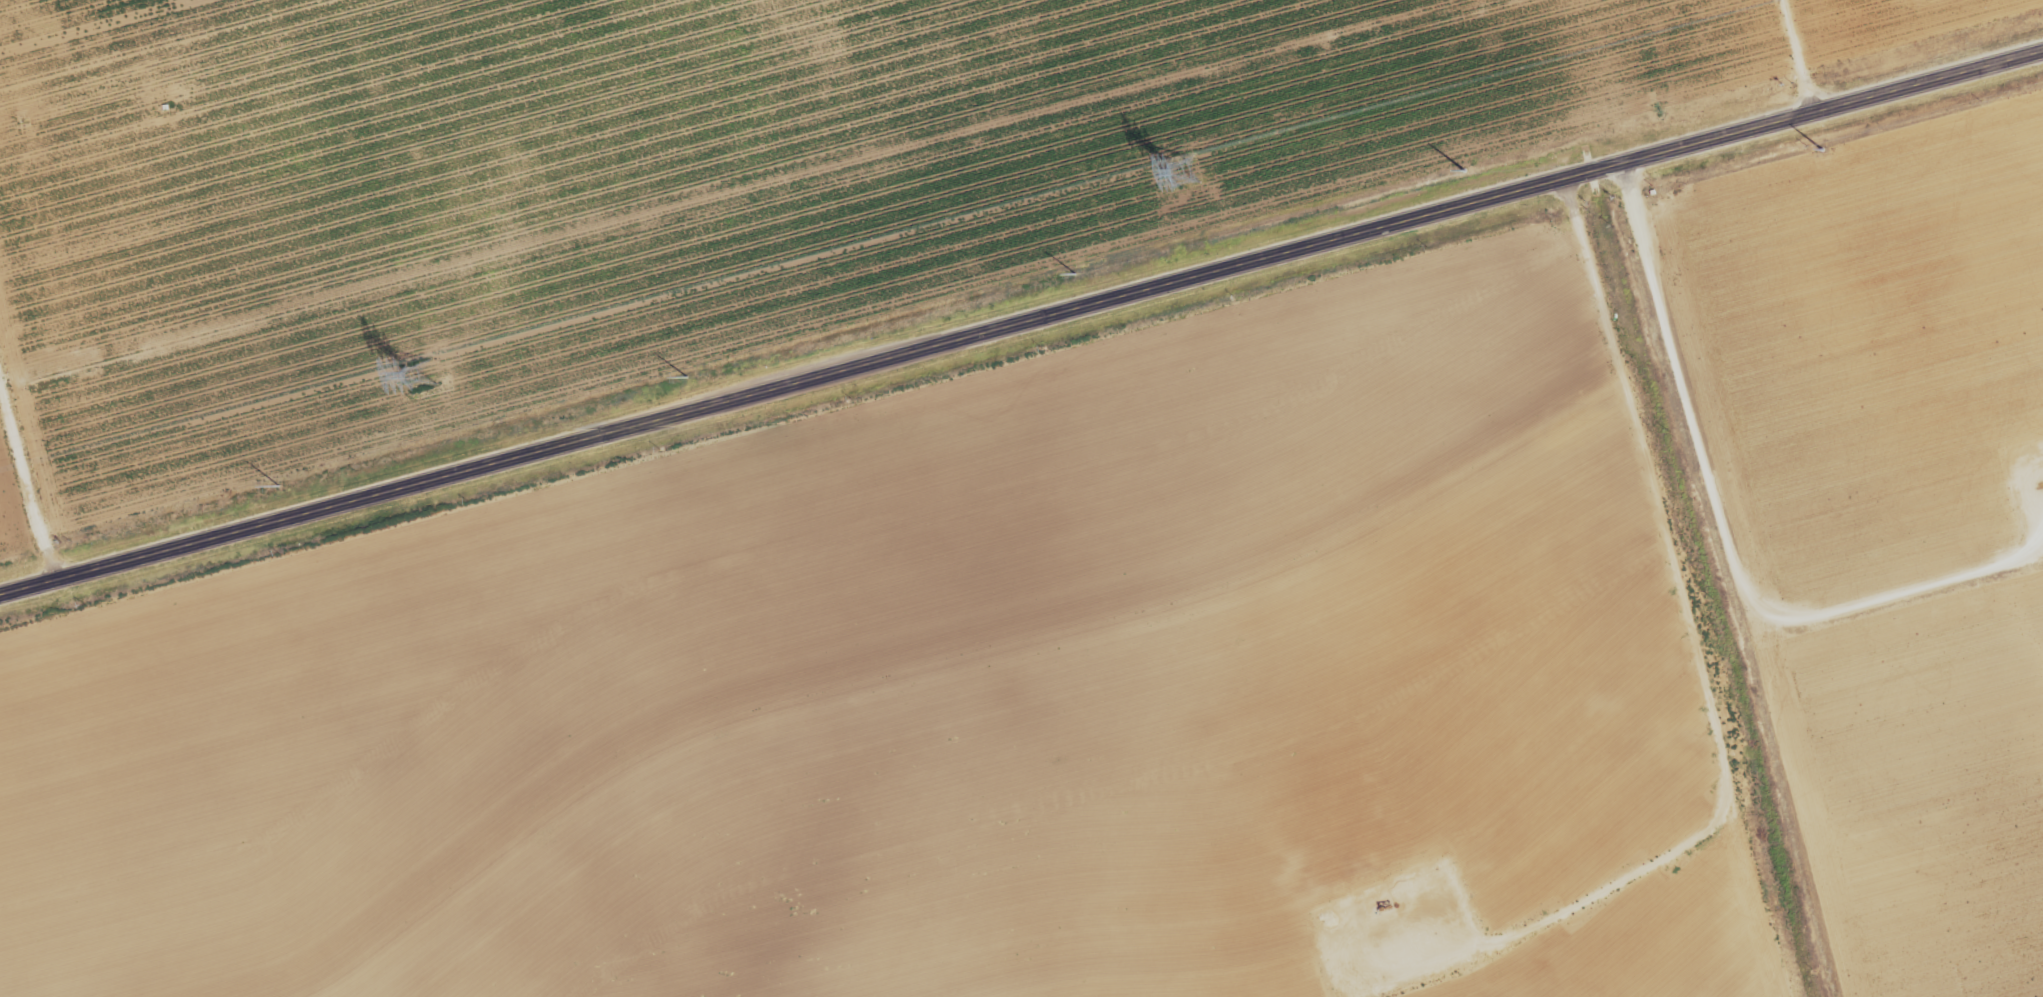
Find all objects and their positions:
power tower: (1813, 150)
power tower: (1471, 163)
power tower: (1182, 171)
power tower: (1083, 270)
road: (1020, 314)
power tower: (694, 374)
power tower: (420, 375)
power tower: (285, 480)
road: (27, 487)
road: (1696, 577)
road: (62, 819)

